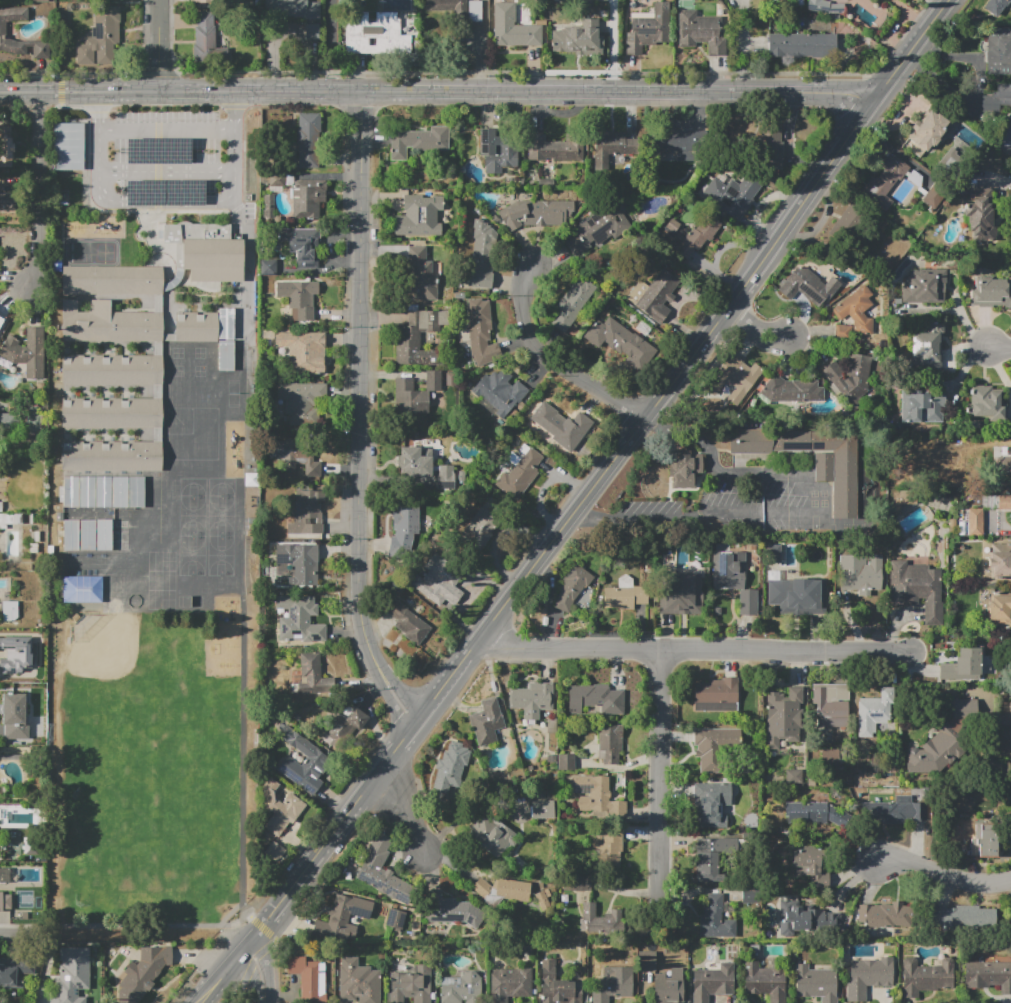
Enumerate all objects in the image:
building: (570, 0)
building: (208, 1)
building: (997, 6)
building: (824, 7)
building: (292, 9)
building: (459, 10)
road: (911, 13)
building: (514, 28)
building: (649, 28)
building: (3, 29)
building: (310, 31)
building: (702, 31)
road: (891, 34)
building: (375, 35)
building: (101, 38)
building: (577, 38)
building: (208, 40)
road: (157, 45)
road: (331, 45)
building: (802, 45)
road: (611, 46)
road: (741, 46)
building: (998, 51)
road: (484, 72)
road: (438, 91)
building: (996, 99)
road: (168, 129)
building: (925, 132)
building: (309, 140)
building: (418, 141)
building: (70, 145)
building: (680, 145)
building: (5, 146)
building: (611, 147)
building: (556, 148)
building: (772, 148)
building: (158, 150)
parking lot: (166, 151)
building: (497, 151)
road: (167, 172)
building: (276, 179)
road: (993, 180)
building: (885, 181)
road: (36, 189)
building: (144, 192)
building: (184, 192)
building: (732, 195)
building: (931, 198)
building: (307, 199)
road: (167, 201)
building: (7, 202)
road: (157, 203)
building: (536, 213)
parking lot: (249, 214)
building: (981, 215)
building: (419, 216)
building: (847, 220)
building: (596, 224)
road: (246, 236)
building: (698, 237)
building: (302, 245)
building: (207, 251)
building: (482, 255)
building: (269, 267)
building: (419, 276)
building: (112, 280)
building: (807, 285)
building: (924, 288)
building: (991, 291)
building: (654, 296)
building: (298, 298)
building: (572, 303)
building: (857, 310)
building: (0, 322)
building: (108, 323)
building: (225, 323)
building: (195, 326)
road: (754, 329)
building: (479, 331)
building: (842, 331)
building: (419, 337)
building: (620, 341)
building: (927, 348)
road: (1001, 349)
building: (303, 351)
building: (26, 352)
road: (551, 360)
building: (112, 370)
building: (851, 373)
building: (735, 378)
road: (359, 384)
building: (791, 390)
building: (499, 392)
building: (414, 394)
building: (302, 401)
building: (987, 404)
building: (922, 408)
building: (112, 413)
building: (7, 422)
building: (551, 424)
building: (1010, 446)
building: (111, 456)
building: (296, 456)
building: (1004, 463)
building: (421, 465)
building: (835, 467)
building: (686, 469)
building: (519, 472)
road: (603, 473)
park: (193, 487)
park: (222, 487)
building: (71, 492)
building: (87, 492)
building: (103, 492)
building: (120, 492)
building: (136, 492)
building: (899, 499)
building: (1004, 502)
road: (798, 512)
building: (307, 513)
park: (193, 515)
park: (222, 516)
building: (8, 519)
building: (973, 522)
building: (406, 524)
building: (481, 525)
building: (103, 534)
building: (119, 534)
building: (71, 535)
building: (87, 535)
building: (773, 553)
park: (193, 556)
park: (222, 556)
building: (1000, 559)
building: (300, 561)
building: (861, 567)
building: (733, 579)
building: (439, 581)
building: (572, 585)
building: (916, 588)
building: (82, 589)
building: (681, 593)
building: (625, 594)
building: (795, 594)
building: (999, 609)
building: (9, 611)
building: (299, 619)
building: (408, 623)
building: (12, 646)
park: (105, 646)
road: (694, 650)
building: (962, 665)
building: (313, 675)
road: (403, 694)
building: (716, 695)
building: (595, 698)
building: (532, 699)
building: (830, 699)
road: (392, 705)
building: (873, 711)
building: (353, 716)
building: (15, 717)
building: (783, 717)
park: (159, 720)
building: (487, 720)
building: (832, 723)
building: (945, 739)
building: (610, 743)
building: (713, 745)
building: (305, 747)
building: (830, 757)
building: (551, 759)
building: (566, 762)
building: (450, 768)
road: (1005, 771)
building: (793, 777)
road: (660, 791)
building: (596, 795)
building: (710, 800)
building: (280, 809)
building: (542, 809)
park: (157, 810)
building: (894, 810)
road: (406, 812)
building: (814, 813)
building: (492, 835)
building: (985, 841)
building: (606, 850)
building: (711, 858)
building: (812, 862)
road: (242, 867)
road: (942, 873)
building: (381, 876)
park: (149, 882)
building: (577, 882)
building: (501, 890)
building: (748, 896)
building: (5, 901)
building: (446, 910)
building: (865, 914)
building: (344, 915)
building: (897, 916)
building: (961, 916)
building: (395, 919)
building: (601, 919)
building: (715, 919)
building: (807, 919)
road: (254, 922)
road: (13, 933)
building: (647, 961)
building: (15, 969)
road: (266, 970)
building: (141, 972)
road: (228, 972)
building: (988, 975)
building: (71, 976)
building: (867, 976)
building: (926, 976)
building: (309, 977)
road: (252, 980)
building: (713, 981)
building: (765, 981)
building: (358, 982)
building: (510, 983)
building: (613, 983)
building: (816, 983)
building: (411, 985)
building: (558, 986)
building: (669, 987)
building: (460, 988)

